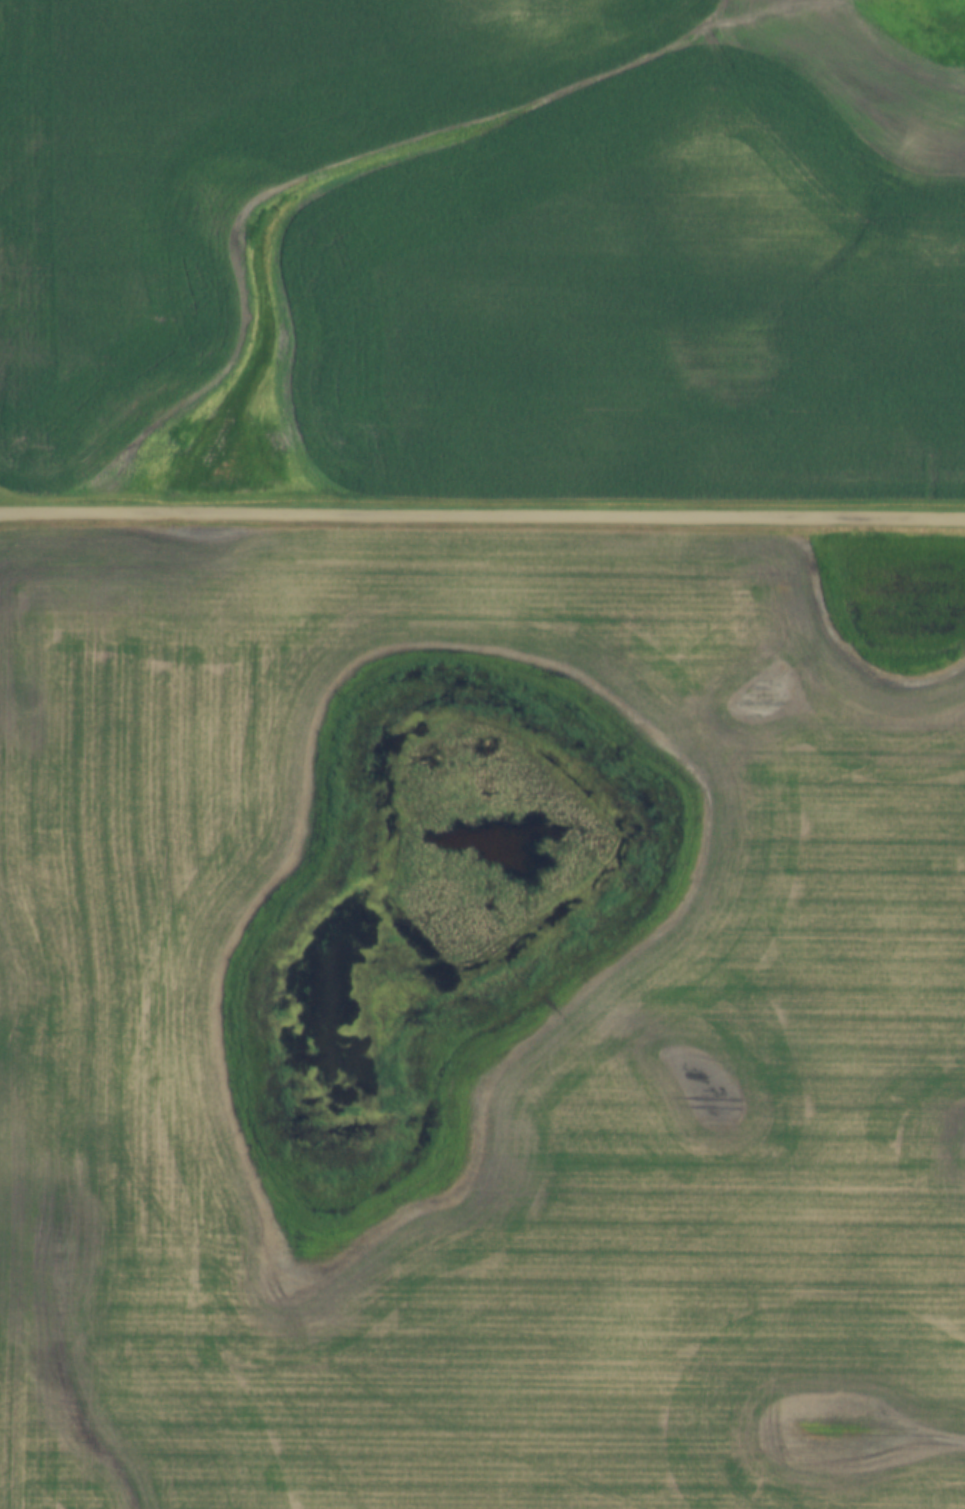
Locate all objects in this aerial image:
road: (482, 517)

